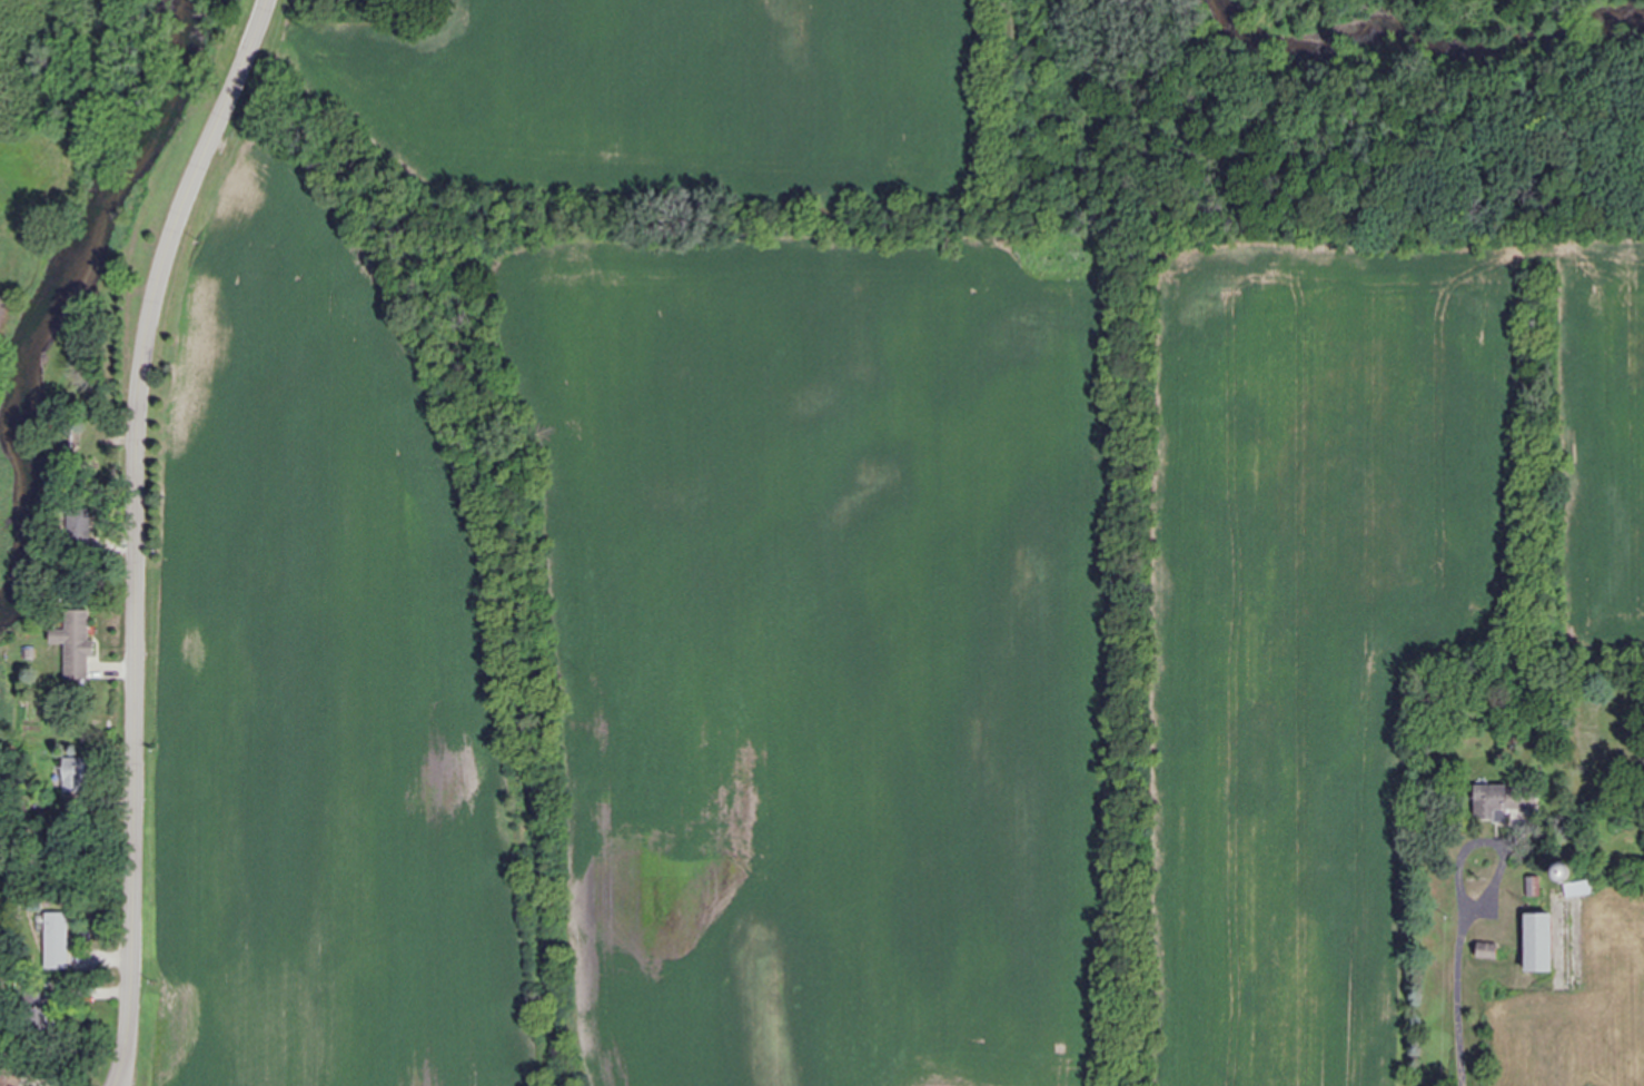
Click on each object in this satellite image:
river: (1443, 51)
river: (73, 304)
road: (142, 520)
building: (80, 531)
building: (77, 643)
building: (77, 776)
building: (1509, 801)
road: (1492, 841)
building: (59, 941)
building: (1542, 942)
building: (1489, 951)
road: (1458, 1004)
road: (119, 1075)
road: (123, 1075)

